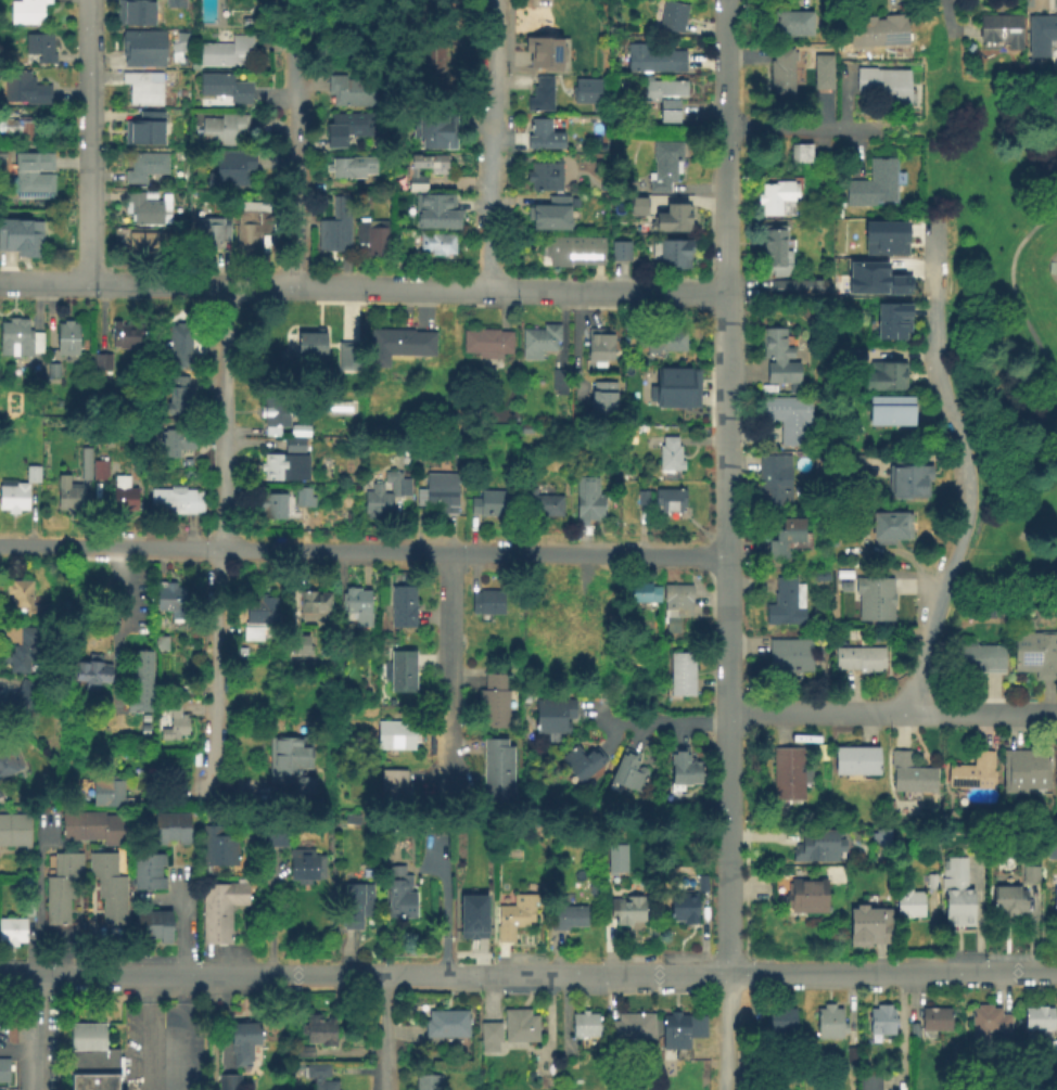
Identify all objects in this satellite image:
building: (174, 3)
building: (135, 11)
building: (27, 12)
building: (673, 16)
road: (947, 17)
building: (793, 24)
building: (1043, 30)
building: (1002, 31)
building: (878, 33)
road: (963, 36)
building: (141, 46)
building: (40, 49)
building: (176, 50)
building: (228, 52)
building: (546, 54)
building: (654, 59)
building: (434, 61)
building: (820, 72)
building: (781, 75)
road: (724, 81)
building: (886, 87)
building: (226, 88)
building: (23, 89)
building: (142, 89)
building: (584, 90)
building: (349, 92)
building: (540, 97)
building: (666, 98)
building: (603, 108)
road: (930, 123)
road: (903, 125)
building: (348, 126)
road: (800, 127)
building: (147, 128)
building: (18, 130)
building: (434, 130)
building: (220, 131)
building: (544, 137)
road: (89, 141)
building: (382, 141)
road: (303, 143)
road: (489, 145)
building: (801, 155)
building: (664, 166)
building: (144, 167)
building: (352, 168)
building: (230, 170)
building: (411, 172)
building: (31, 175)
building: (545, 177)
road: (1011, 180)
building: (606, 184)
building: (875, 185)
building: (364, 197)
building: (778, 201)
building: (639, 208)
building: (145, 209)
building: (436, 213)
building: (550, 216)
building: (673, 220)
building: (250, 229)
road: (724, 229)
building: (884, 236)
building: (211, 238)
building: (329, 239)
building: (24, 241)
building: (374, 244)
building: (148, 246)
building: (436, 246)
building: (620, 252)
building: (572, 253)
building: (776, 253)
building: (672, 256)
building: (876, 278)
road: (361, 288)
road: (1013, 288)
building: (797, 290)
park: (1001, 307)
building: (893, 323)
road: (726, 329)
building: (127, 336)
building: (18, 339)
building: (66, 341)
building: (661, 343)
building: (540, 344)
building: (487, 346)
building: (398, 347)
road: (575, 347)
building: (313, 348)
building: (600, 348)
building: (177, 349)
building: (632, 349)
building: (347, 358)
building: (104, 359)
building: (856, 359)
building: (778, 360)
building: (52, 372)
building: (889, 380)
building: (559, 384)
building: (661, 386)
building: (178, 396)
building: (604, 401)
road: (728, 403)
building: (892, 414)
building: (275, 415)
building: (790, 421)
building: (300, 433)
building: (175, 445)
building: (294, 447)
building: (665, 454)
building: (84, 464)
building: (853, 466)
building: (275, 469)
road: (966, 469)
building: (99, 471)
building: (31, 475)
building: (909, 482)
building: (774, 484)
building: (71, 496)
building: (438, 496)
building: (382, 497)
building: (13, 498)
building: (124, 498)
building: (303, 499)
building: (641, 500)
road: (730, 500)
building: (175, 502)
building: (588, 502)
building: (668, 502)
building: (542, 504)
building: (492, 506)
building: (272, 509)
building: (404, 509)
building: (313, 522)
building: (889, 530)
building: (786, 540)
road: (220, 546)
road: (365, 550)
building: (820, 577)
building: (844, 588)
road: (731, 591)
building: (642, 594)
building: (21, 598)
building: (175, 601)
building: (875, 601)
building: (314, 603)
building: (486, 604)
building: (559, 604)
building: (787, 605)
building: (357, 606)
building: (403, 606)
building: (675, 606)
building: (262, 612)
road: (116, 629)
building: (165, 642)
building: (298, 643)
road: (731, 645)
building: (23, 651)
building: (1035, 652)
building: (979, 655)
building: (607, 656)
building: (789, 657)
building: (862, 661)
road: (451, 669)
building: (400, 672)
building: (91, 674)
building: (683, 675)
building: (139, 685)
road: (731, 689)
building: (493, 704)
building: (21, 706)
road: (894, 713)
building: (555, 718)
building: (174, 721)
road: (670, 721)
road: (780, 727)
building: (395, 735)
building: (8, 758)
building: (857, 761)
building: (583, 762)
building: (294, 767)
building: (684, 768)
road: (731, 769)
building: (497, 770)
building: (1027, 771)
building: (629, 772)
building: (973, 773)
building: (788, 774)
building: (910, 775)
building: (394, 788)
road: (230, 794)
building: (109, 795)
building: (164, 796)
road: (209, 815)
building: (91, 826)
building: (71, 828)
building: (162, 830)
building: (180, 830)
building: (4, 832)
building: (18, 832)
building: (111, 832)
building: (275, 837)
building: (882, 837)
building: (216, 847)
building: (820, 848)
building: (1050, 848)
building: (615, 857)
road: (730, 861)
building: (148, 862)
building: (67, 865)
building: (102, 865)
building: (305, 867)
building: (1030, 876)
building: (148, 881)
building: (930, 883)
building: (27, 884)
building: (701, 884)
building: (60, 888)
building: (111, 888)
building: (609, 888)
building: (594, 892)
building: (399, 895)
building: (957, 895)
building: (226, 896)
building: (806, 897)
road: (158, 902)
building: (1054, 902)
building: (1008, 903)
building: (356, 906)
building: (909, 906)
building: (684, 910)
building: (628, 911)
building: (27, 912)
building: (113, 912)
building: (56, 913)
building: (216, 915)
building: (568, 918)
building: (512, 919)
road: (270, 920)
building: (468, 921)
road: (179, 923)
road: (38, 925)
building: (144, 926)
building: (162, 926)
building: (869, 926)
building: (12, 933)
building: (216, 935)
road: (730, 936)
road: (17, 975)
road: (545, 975)
building: (935, 1020)
building: (1041, 1020)
building: (782, 1021)
building: (882, 1021)
building: (984, 1023)
building: (830, 1024)
building: (445, 1027)
building: (584, 1028)
building: (632, 1029)
building: (319, 1030)
building: (913, 1031)
road: (35, 1033)
road: (142, 1033)
road: (181, 1033)
road: (383, 1033)
building: (508, 1033)
road: (727, 1033)
road: (737, 1033)
building: (680, 1041)
building: (242, 1043)
road: (17, 1050)
building: (1052, 1052)
building: (304, 1053)
building: (92, 1059)
building: (3, 1072)
building: (319, 1078)
building: (869, 1080)
building: (228, 1082)
building: (426, 1082)

